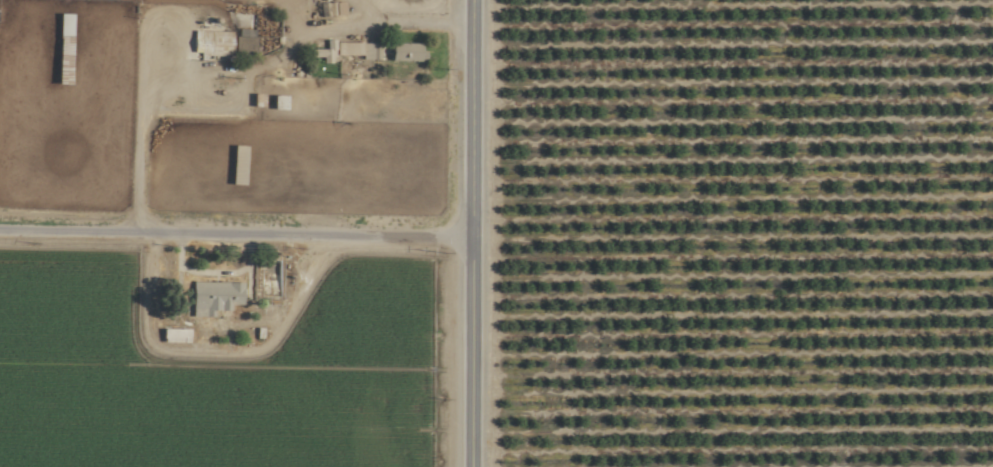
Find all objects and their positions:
building: (209, 42)
building: (345, 50)
building: (402, 51)
road: (241, 69)
road: (470, 233)
road: (235, 236)
building: (211, 296)
building: (172, 335)

